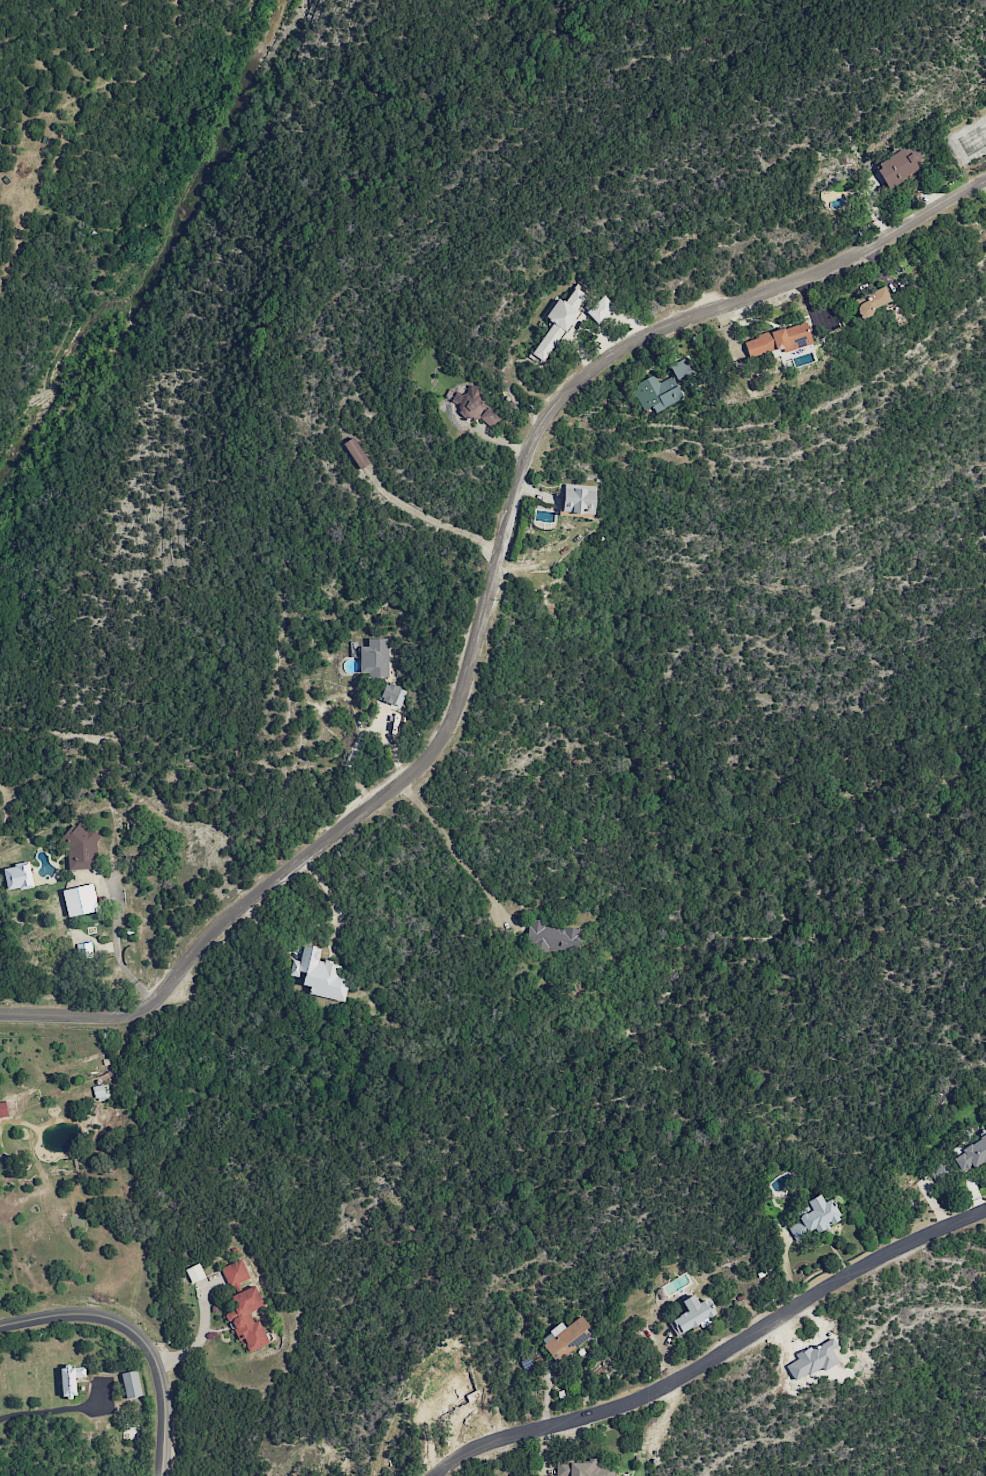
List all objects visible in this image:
building: (898, 168)
building: (872, 302)
building: (600, 309)
building: (560, 320)
building: (778, 340)
building: (681, 369)
building: (656, 393)
building: (466, 402)
building: (489, 417)
building: (356, 453)
building: (578, 499)
road: (487, 600)
building: (374, 658)
building: (392, 694)
building: (81, 848)
road: (453, 848)
building: (18, 876)
building: (80, 900)
building: (551, 937)
road: (116, 946)
building: (320, 975)
building: (3, 1109)
building: (971, 1155)
building: (940, 1171)
building: (815, 1218)
building: (235, 1273)
building: (692, 1314)
building: (247, 1319)
road: (139, 1336)
building: (566, 1339)
road: (713, 1358)
building: (71, 1379)
building: (131, 1384)
building: (583, 1469)

